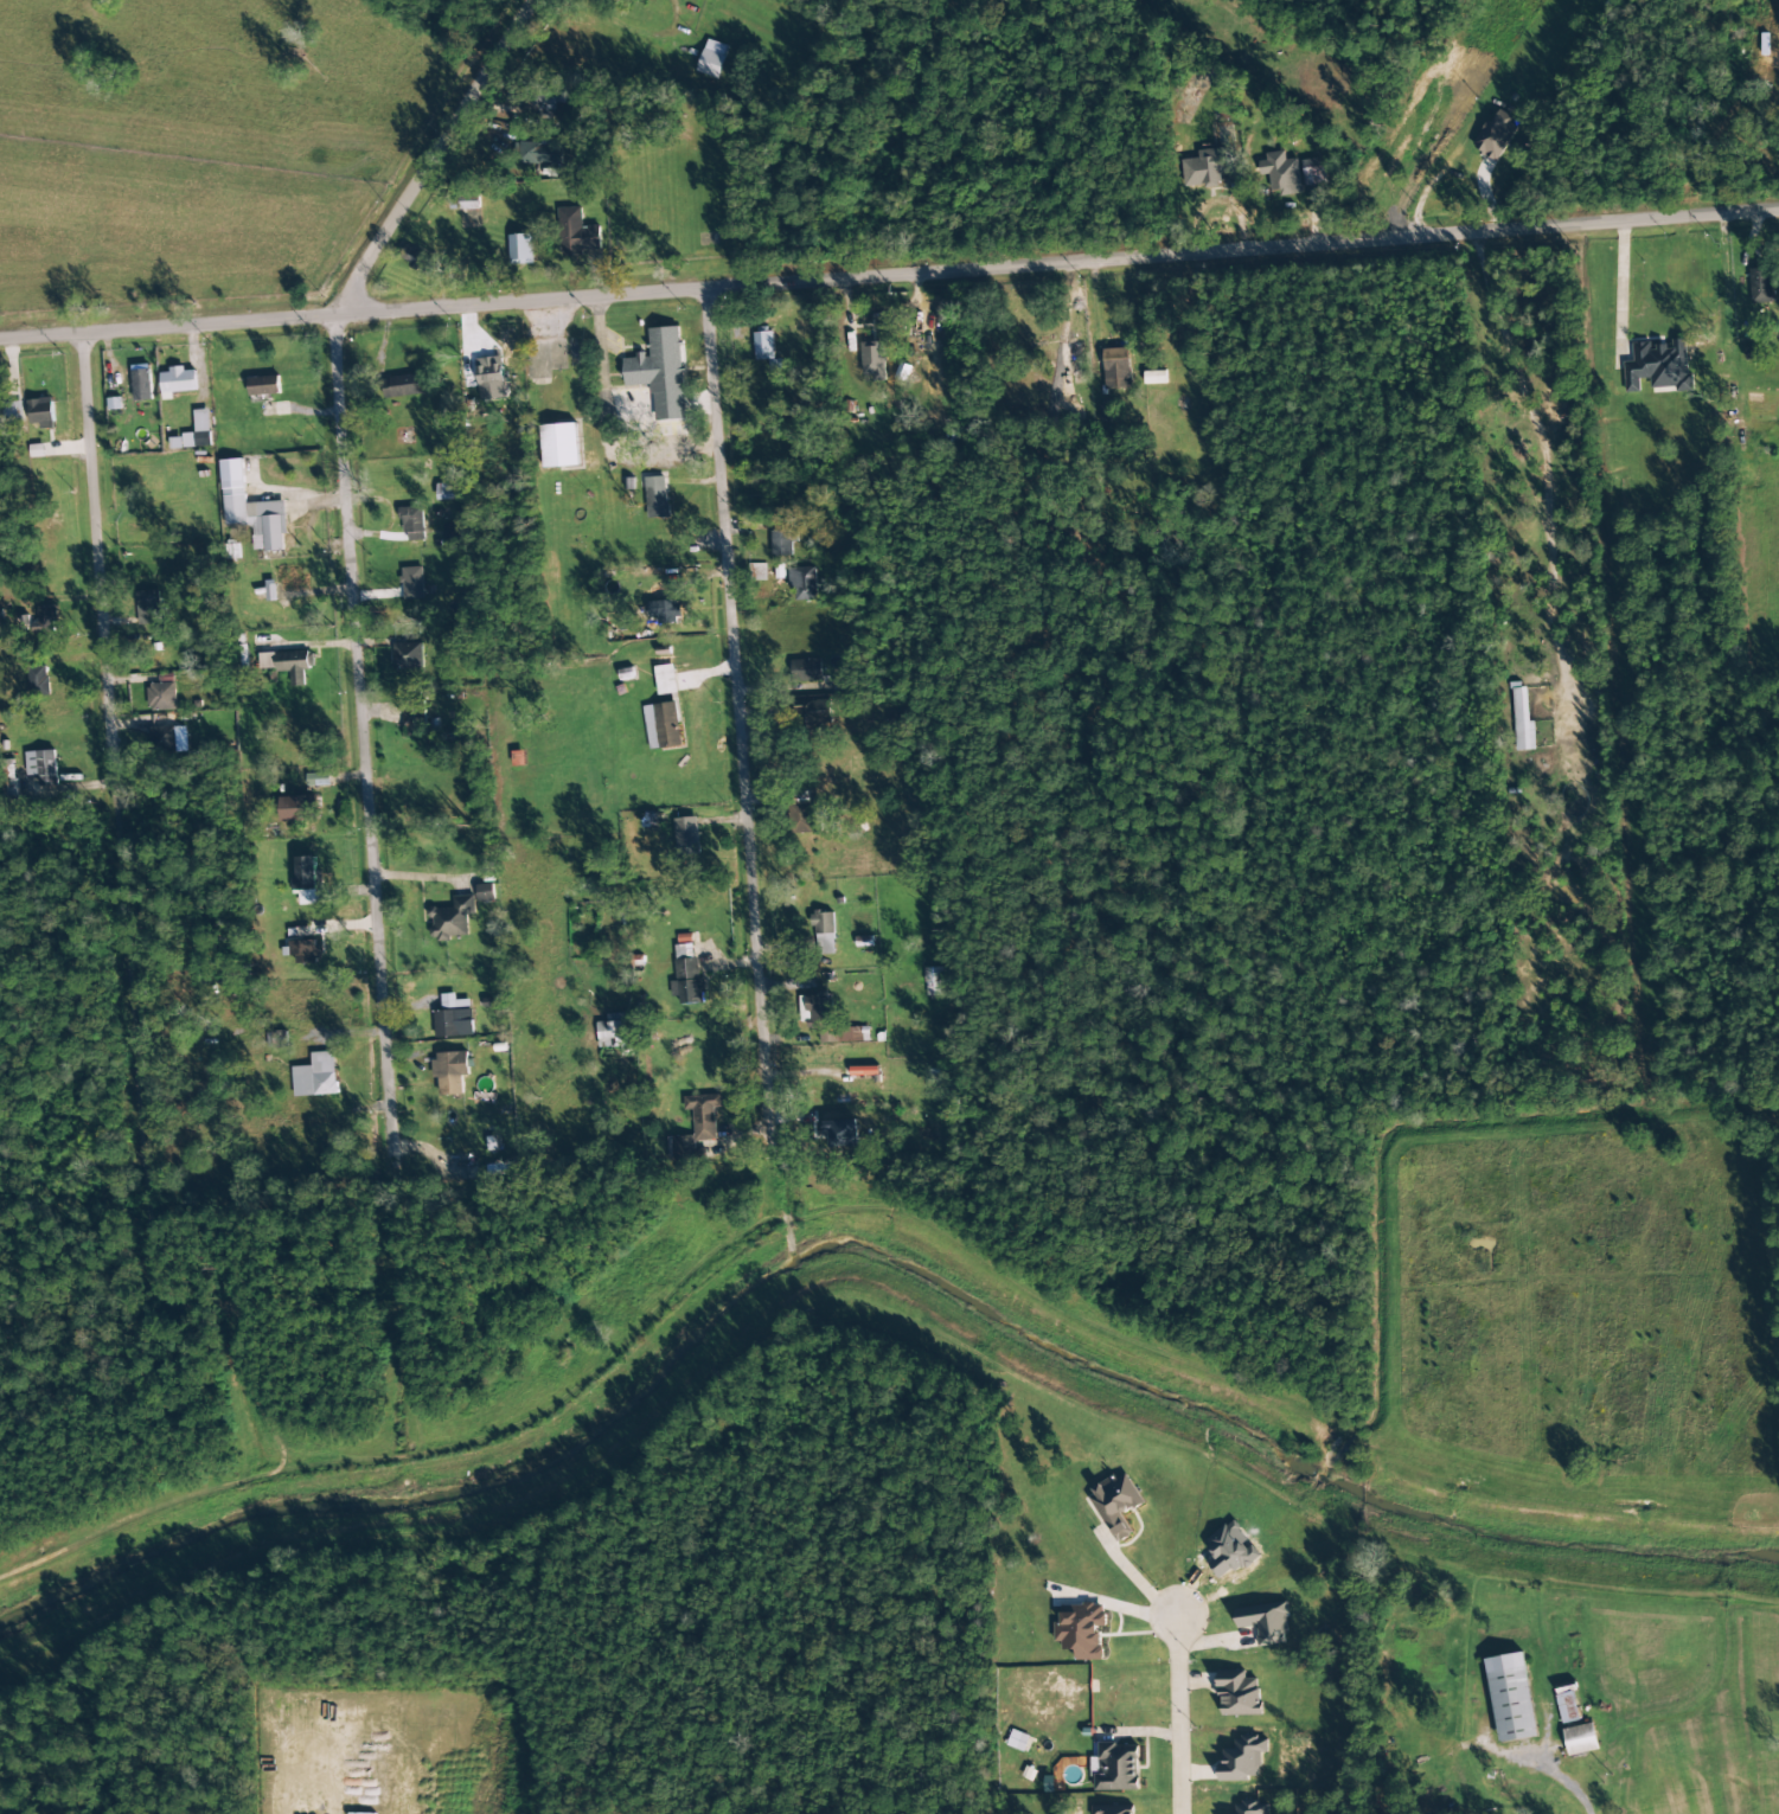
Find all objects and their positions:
building: (712, 59)
building: (1496, 135)
building: (537, 153)
road: (429, 155)
building: (1208, 167)
building: (1312, 172)
building: (1279, 175)
building: (577, 233)
building: (520, 249)
building: (415, 256)
road: (889, 269)
building: (1759, 286)
building: (1636, 291)
building: (763, 346)
building: (872, 360)
building: (1113, 366)
building: (1658, 366)
building: (660, 372)
building: (1154, 377)
building: (491, 378)
building: (177, 382)
building: (141, 385)
building: (405, 385)
building: (263, 386)
building: (40, 412)
building: (2, 415)
building: (194, 432)
building: (559, 446)
building: (448, 491)
building: (655, 496)
building: (252, 509)
building: (412, 523)
building: (782, 541)
building: (763, 573)
building: (412, 583)
building: (802, 583)
building: (270, 590)
building: (775, 595)
building: (151, 609)
building: (665, 611)
building: (44, 620)
road: (1645, 647)
building: (408, 655)
building: (288, 664)
building: (806, 671)
building: (161, 697)
road: (736, 709)
building: (813, 713)
building: (415, 722)
building: (1521, 722)
building: (661, 726)
road: (361, 736)
building: (162, 739)
building: (40, 767)
building: (297, 808)
road: (114, 831)
building: (686, 837)
building: (307, 880)
building: (486, 892)
building: (452, 918)
building: (824, 932)
building: (305, 950)
building: (687, 976)
building: (930, 981)
building: (859, 992)
building: (817, 1013)
building: (454, 1023)
building: (450, 1071)
building: (864, 1071)
building: (315, 1076)
road: (1498, 1084)
building: (697, 1126)
building: (1115, 1505)
building: (1265, 1623)
building: (1082, 1632)
road: (107, 1693)
building: (1239, 1694)
building: (1510, 1698)
building: (1567, 1707)
road: (1179, 1716)
building: (1580, 1739)
building: (1017, 1741)
building: (1242, 1759)
building: (1116, 1767)
building: (1252, 1808)
building: (1114, 1809)

